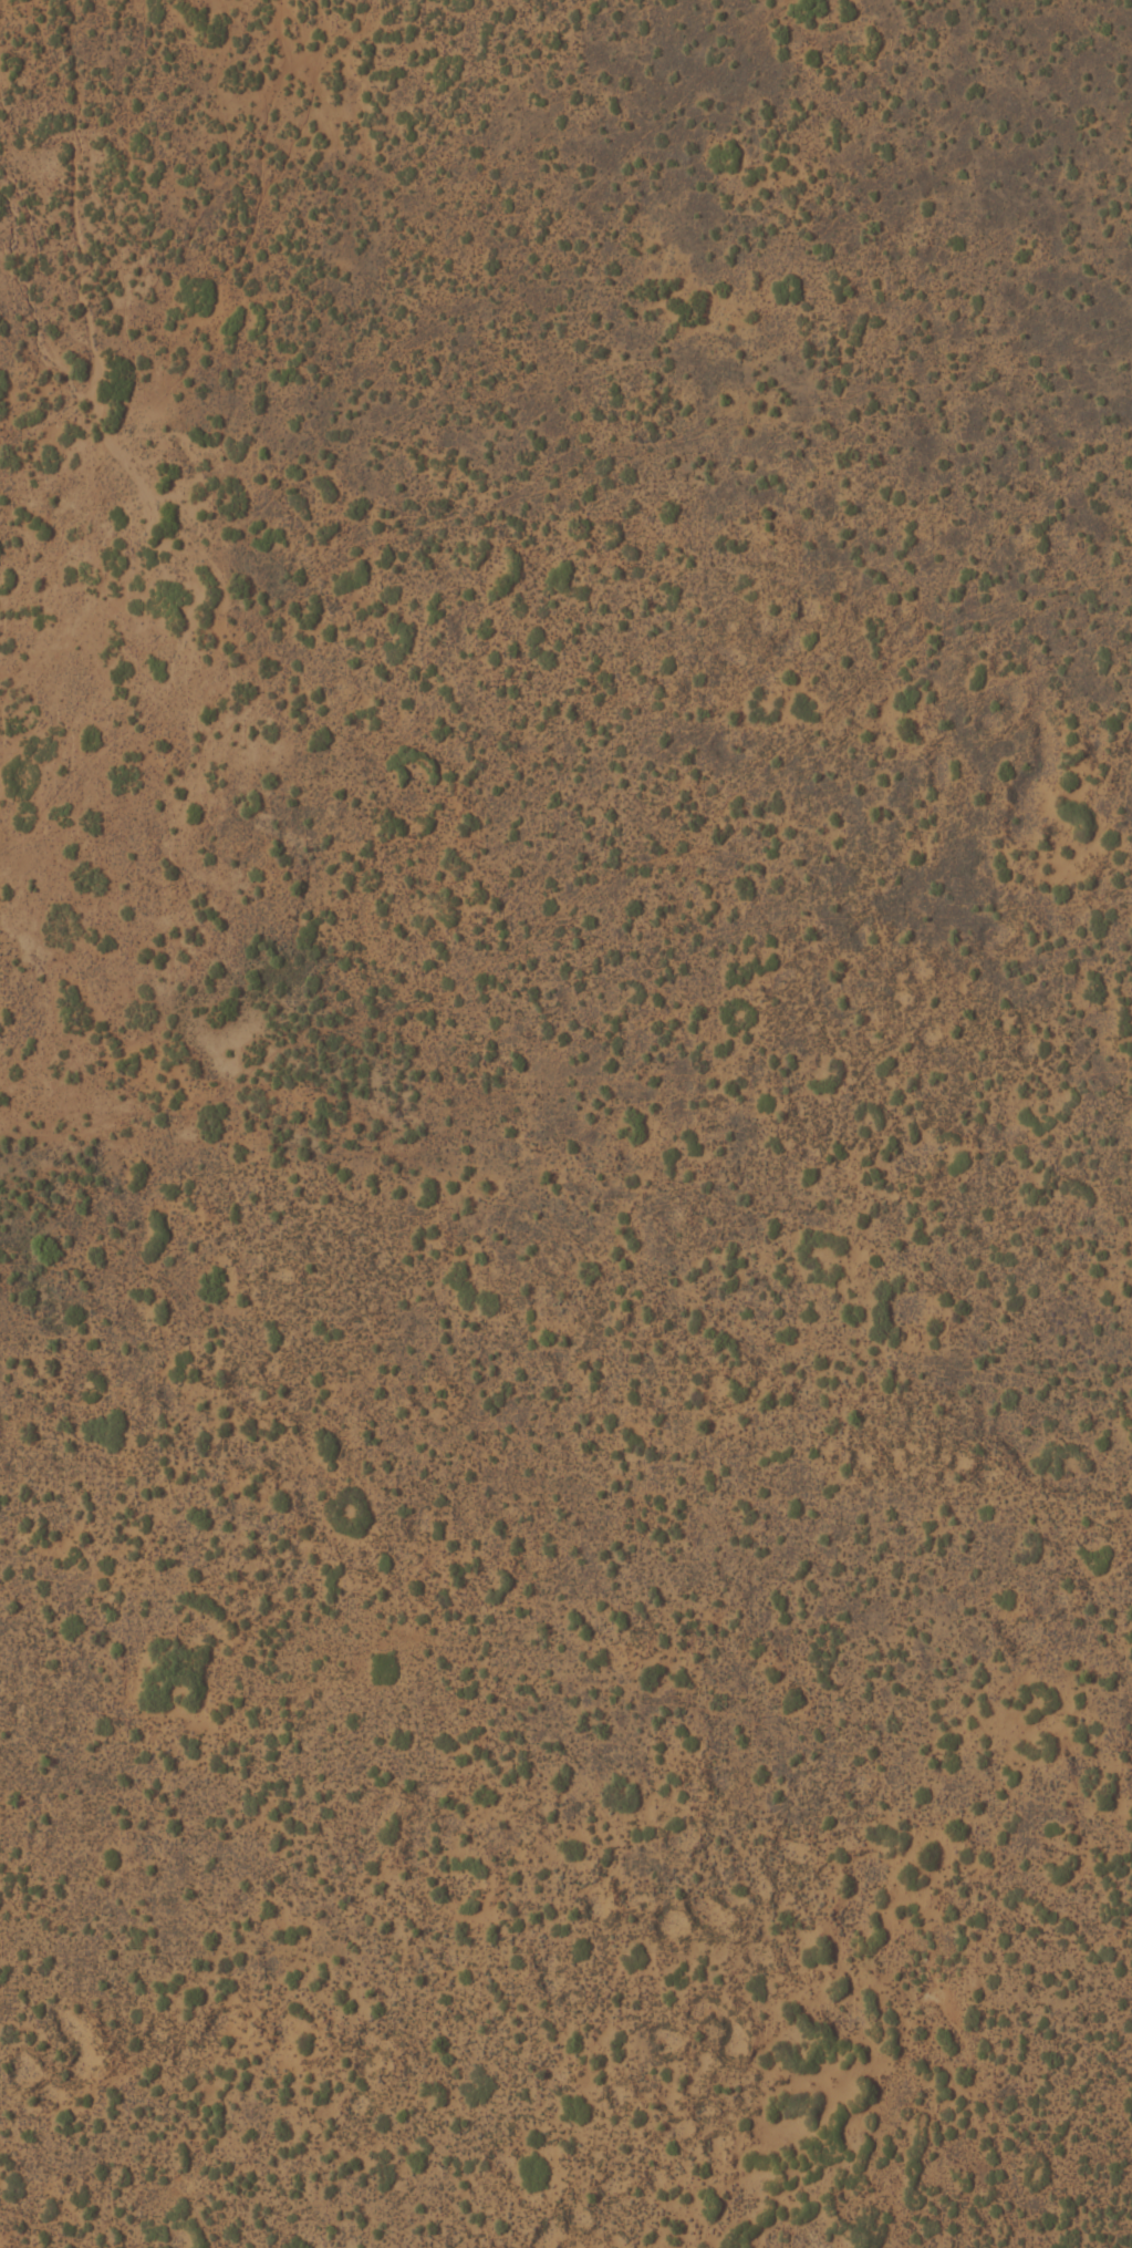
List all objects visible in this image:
road: (33, 81)

